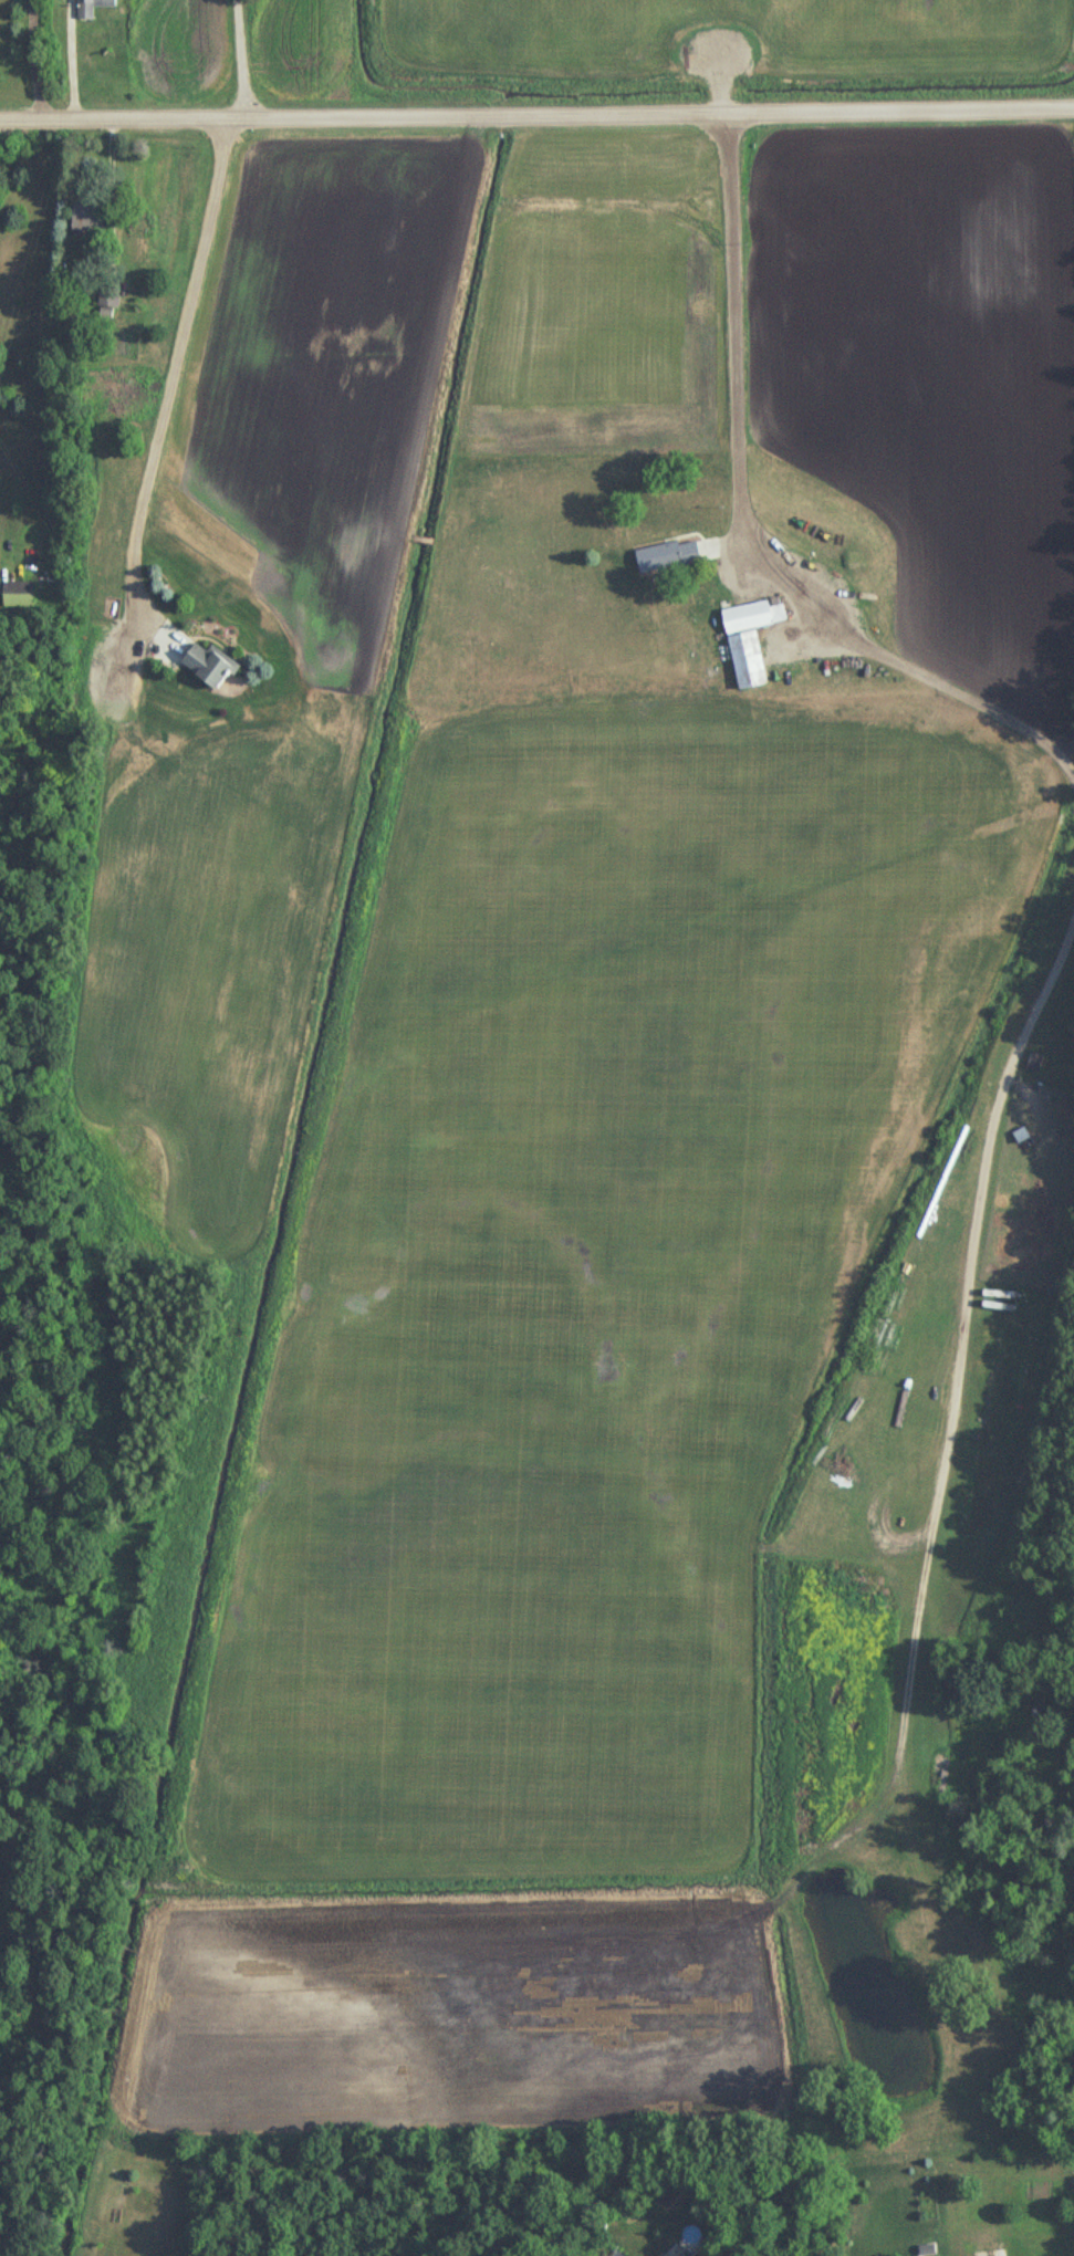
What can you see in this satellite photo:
building: (92, 8)
road: (242, 58)
road: (34, 59)
road: (73, 59)
road: (536, 115)
building: (85, 216)
building: (107, 296)
road: (168, 369)
road: (737, 531)
building: (666, 557)
building: (17, 595)
building: (748, 640)
building: (206, 667)
building: (1032, 1063)
road: (994, 1094)
building: (1019, 1137)
building: (994, 1295)
building: (654, 2255)

